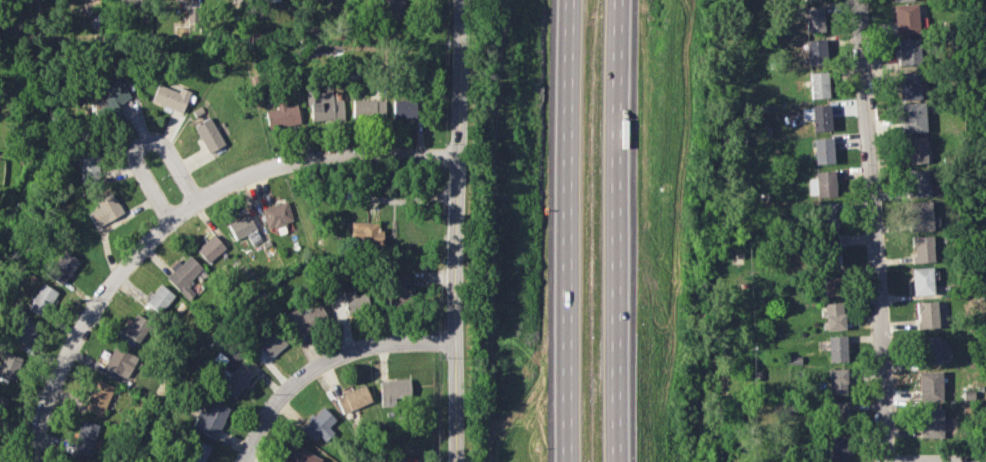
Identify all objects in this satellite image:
building: (179, 0)
building: (274, 0)
building: (900, 0)
building: (131, 2)
building: (391, 10)
building: (812, 18)
building: (905, 18)
building: (815, 51)
building: (908, 51)
building: (818, 84)
building: (908, 85)
building: (113, 97)
building: (170, 97)
building: (324, 106)
building: (368, 108)
building: (404, 109)
building: (282, 115)
building: (817, 116)
building: (912, 117)
building: (208, 134)
road: (142, 143)
building: (822, 150)
building: (915, 150)
building: (89, 168)
building: (917, 182)
building: (822, 184)
building: (105, 210)
building: (276, 214)
building: (827, 216)
building: (920, 216)
road: (179, 217)
road: (456, 230)
road: (566, 231)
road: (616, 231)
road: (871, 231)
building: (364, 234)
building: (210, 248)
building: (922, 248)
building: (830, 249)
building: (63, 268)
building: (183, 275)
building: (922, 280)
building: (832, 282)
building: (401, 287)
building: (159, 298)
building: (42, 300)
building: (354, 300)
building: (926, 314)
building: (834, 316)
building: (305, 318)
building: (137, 327)
building: (24, 331)
building: (270, 345)
building: (836, 348)
building: (929, 350)
building: (120, 362)
road: (325, 363)
building: (10, 365)
building: (235, 380)
building: (837, 381)
building: (930, 385)
building: (394, 392)
building: (99, 397)
building: (353, 398)
building: (837, 410)
building: (210, 419)
building: (931, 423)
building: (318, 424)
building: (85, 437)
building: (197, 452)
building: (299, 455)
building: (68, 461)

